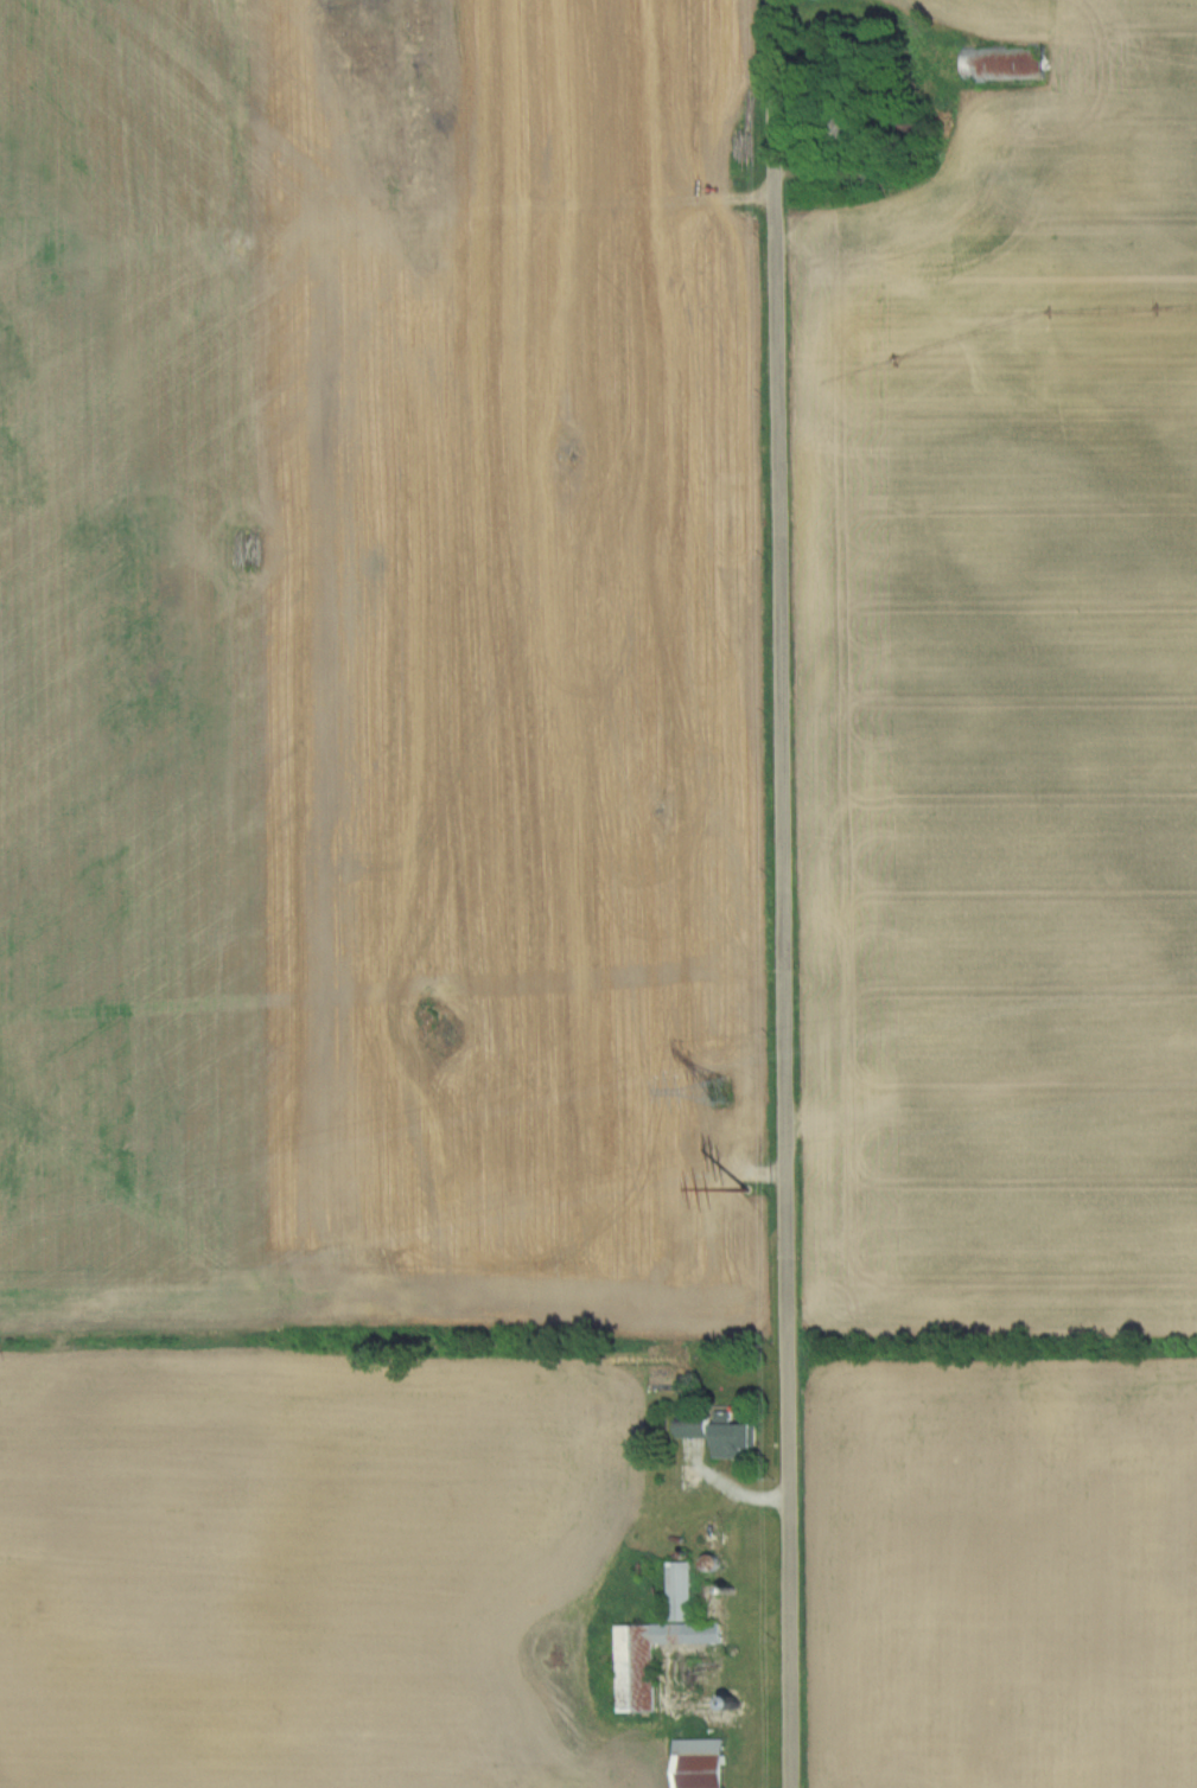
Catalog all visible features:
building: (1030, 59)
building: (849, 128)
road: (783, 893)
power tower: (724, 1091)
power tower: (745, 1192)
building: (722, 1432)
building: (660, 1642)
building: (701, 1763)

